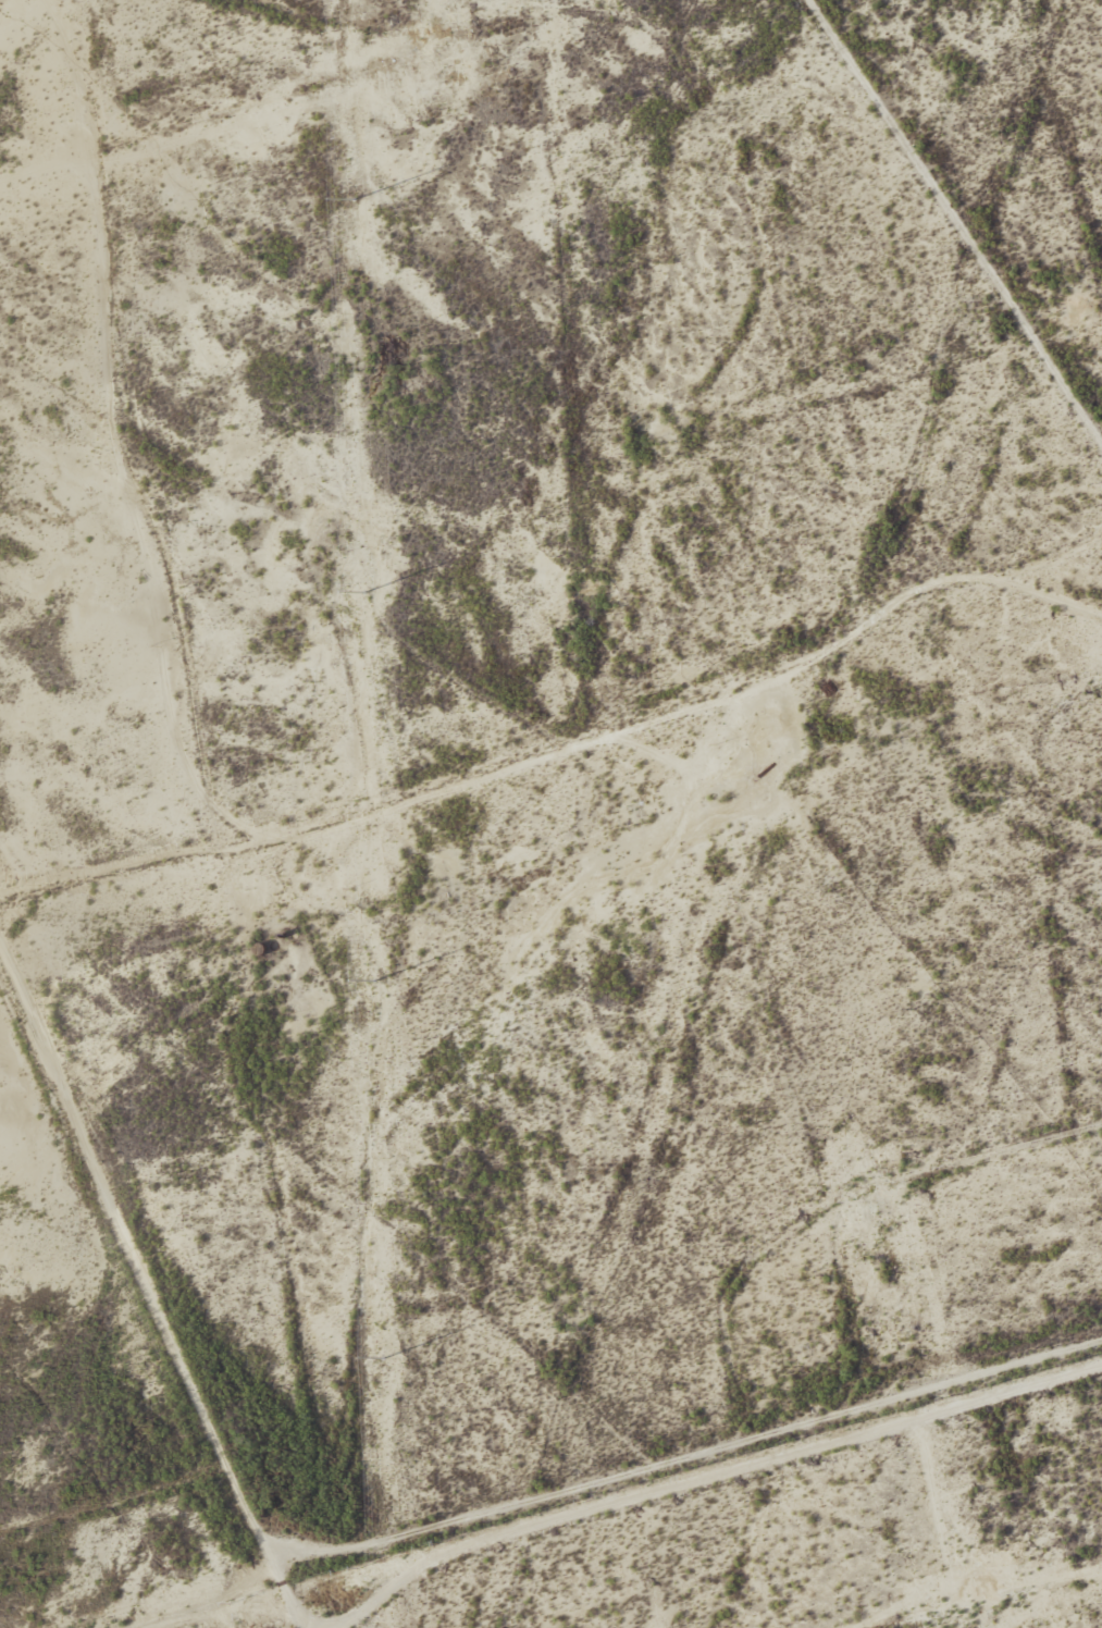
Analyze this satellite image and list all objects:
road: (221, 111)
power tower: (354, 201)
power tower: (366, 593)
road: (562, 745)
power tower: (374, 980)
road: (820, 1209)
road: (156, 1285)
power tower: (383, 1359)
road: (689, 1455)
road: (709, 1471)
road: (982, 1595)

